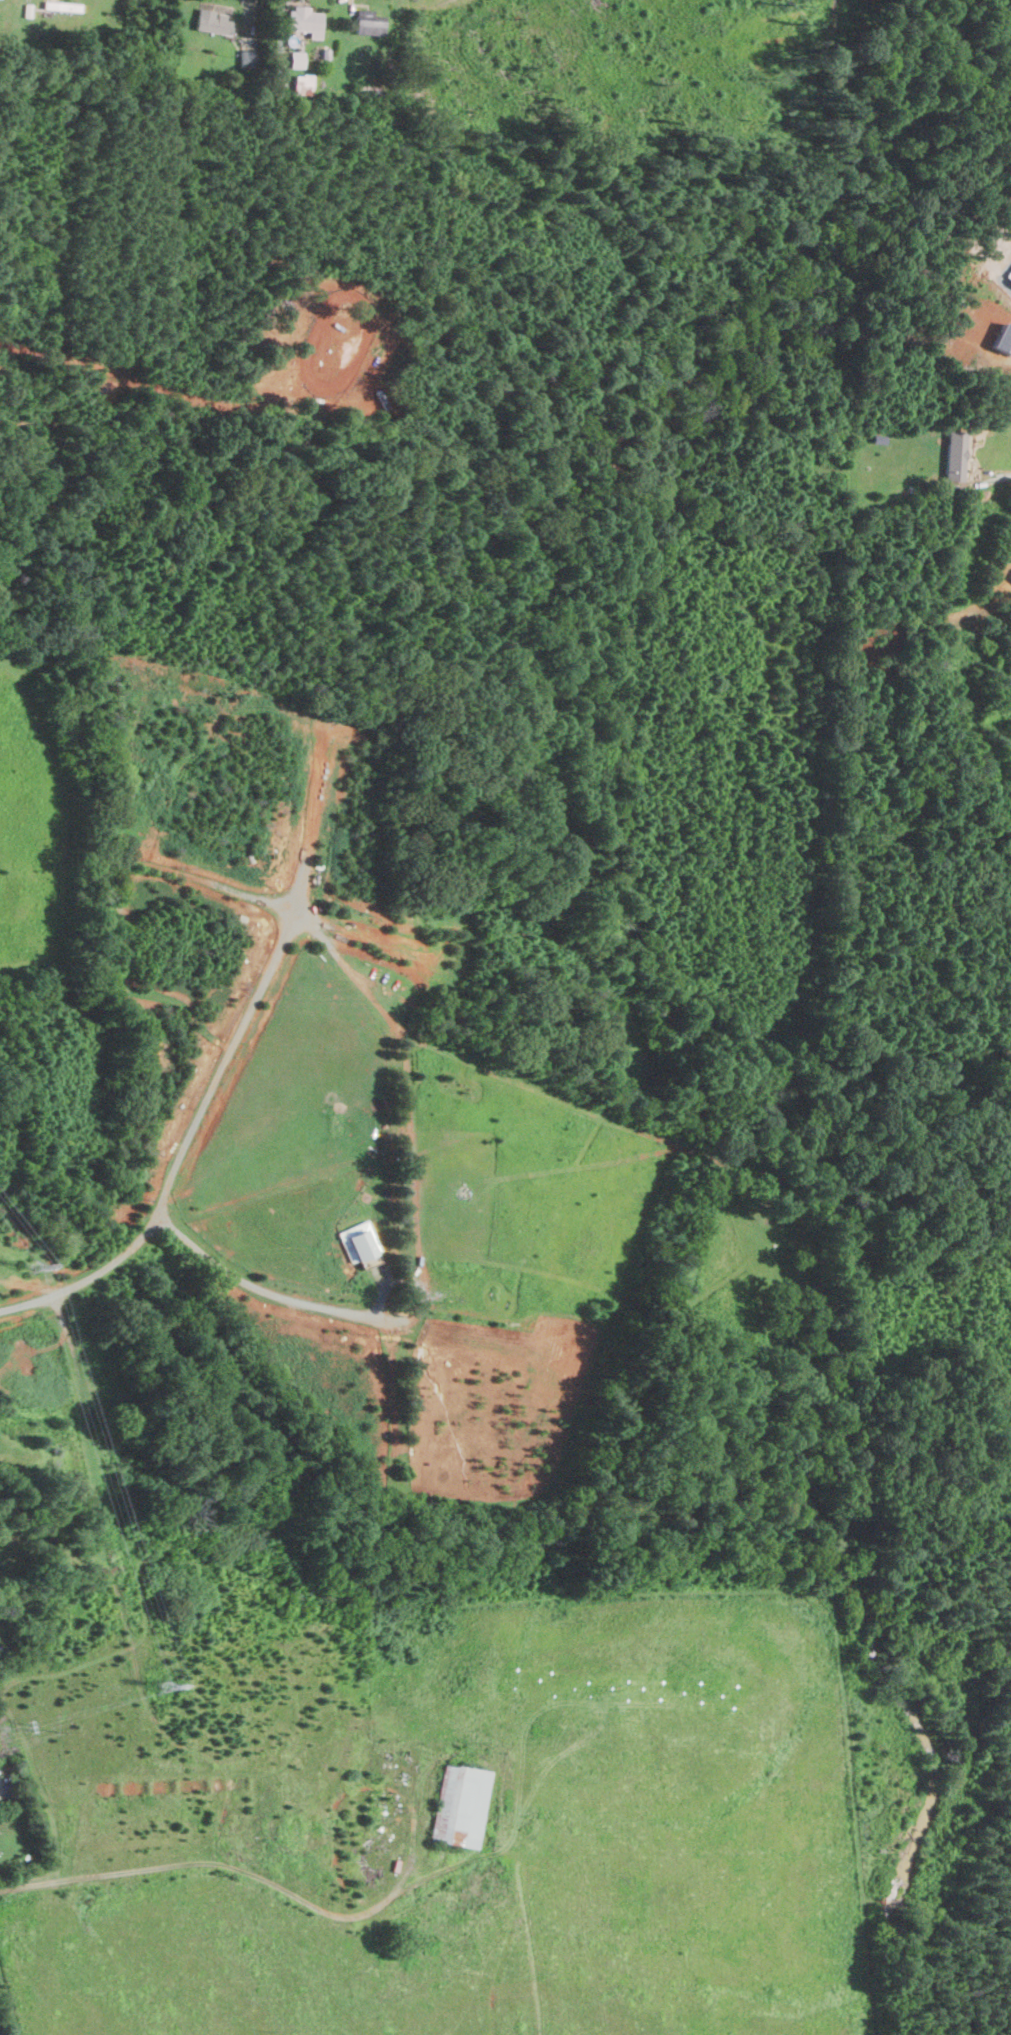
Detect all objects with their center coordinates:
building: (302, 20)
building: (212, 22)
building: (364, 22)
building: (295, 59)
building: (302, 83)
building: (951, 455)
road: (993, 478)
road: (232, 893)
road: (354, 929)
road: (216, 1065)
road: (401, 1085)
building: (356, 1239)
power tower: (29, 1264)
road: (407, 1283)
road: (336, 1312)
road: (555, 1595)
power tower: (162, 1687)
road: (52, 1717)
power tower: (27, 1726)
road: (283, 1732)
road: (485, 1758)
road: (854, 1775)
building: (452, 1810)
building: (268, 1822)
building: (293, 1834)
crop: (535, 1851)
building: (26, 1856)
building: (153, 1861)
road: (207, 1862)
road: (9, 2003)

